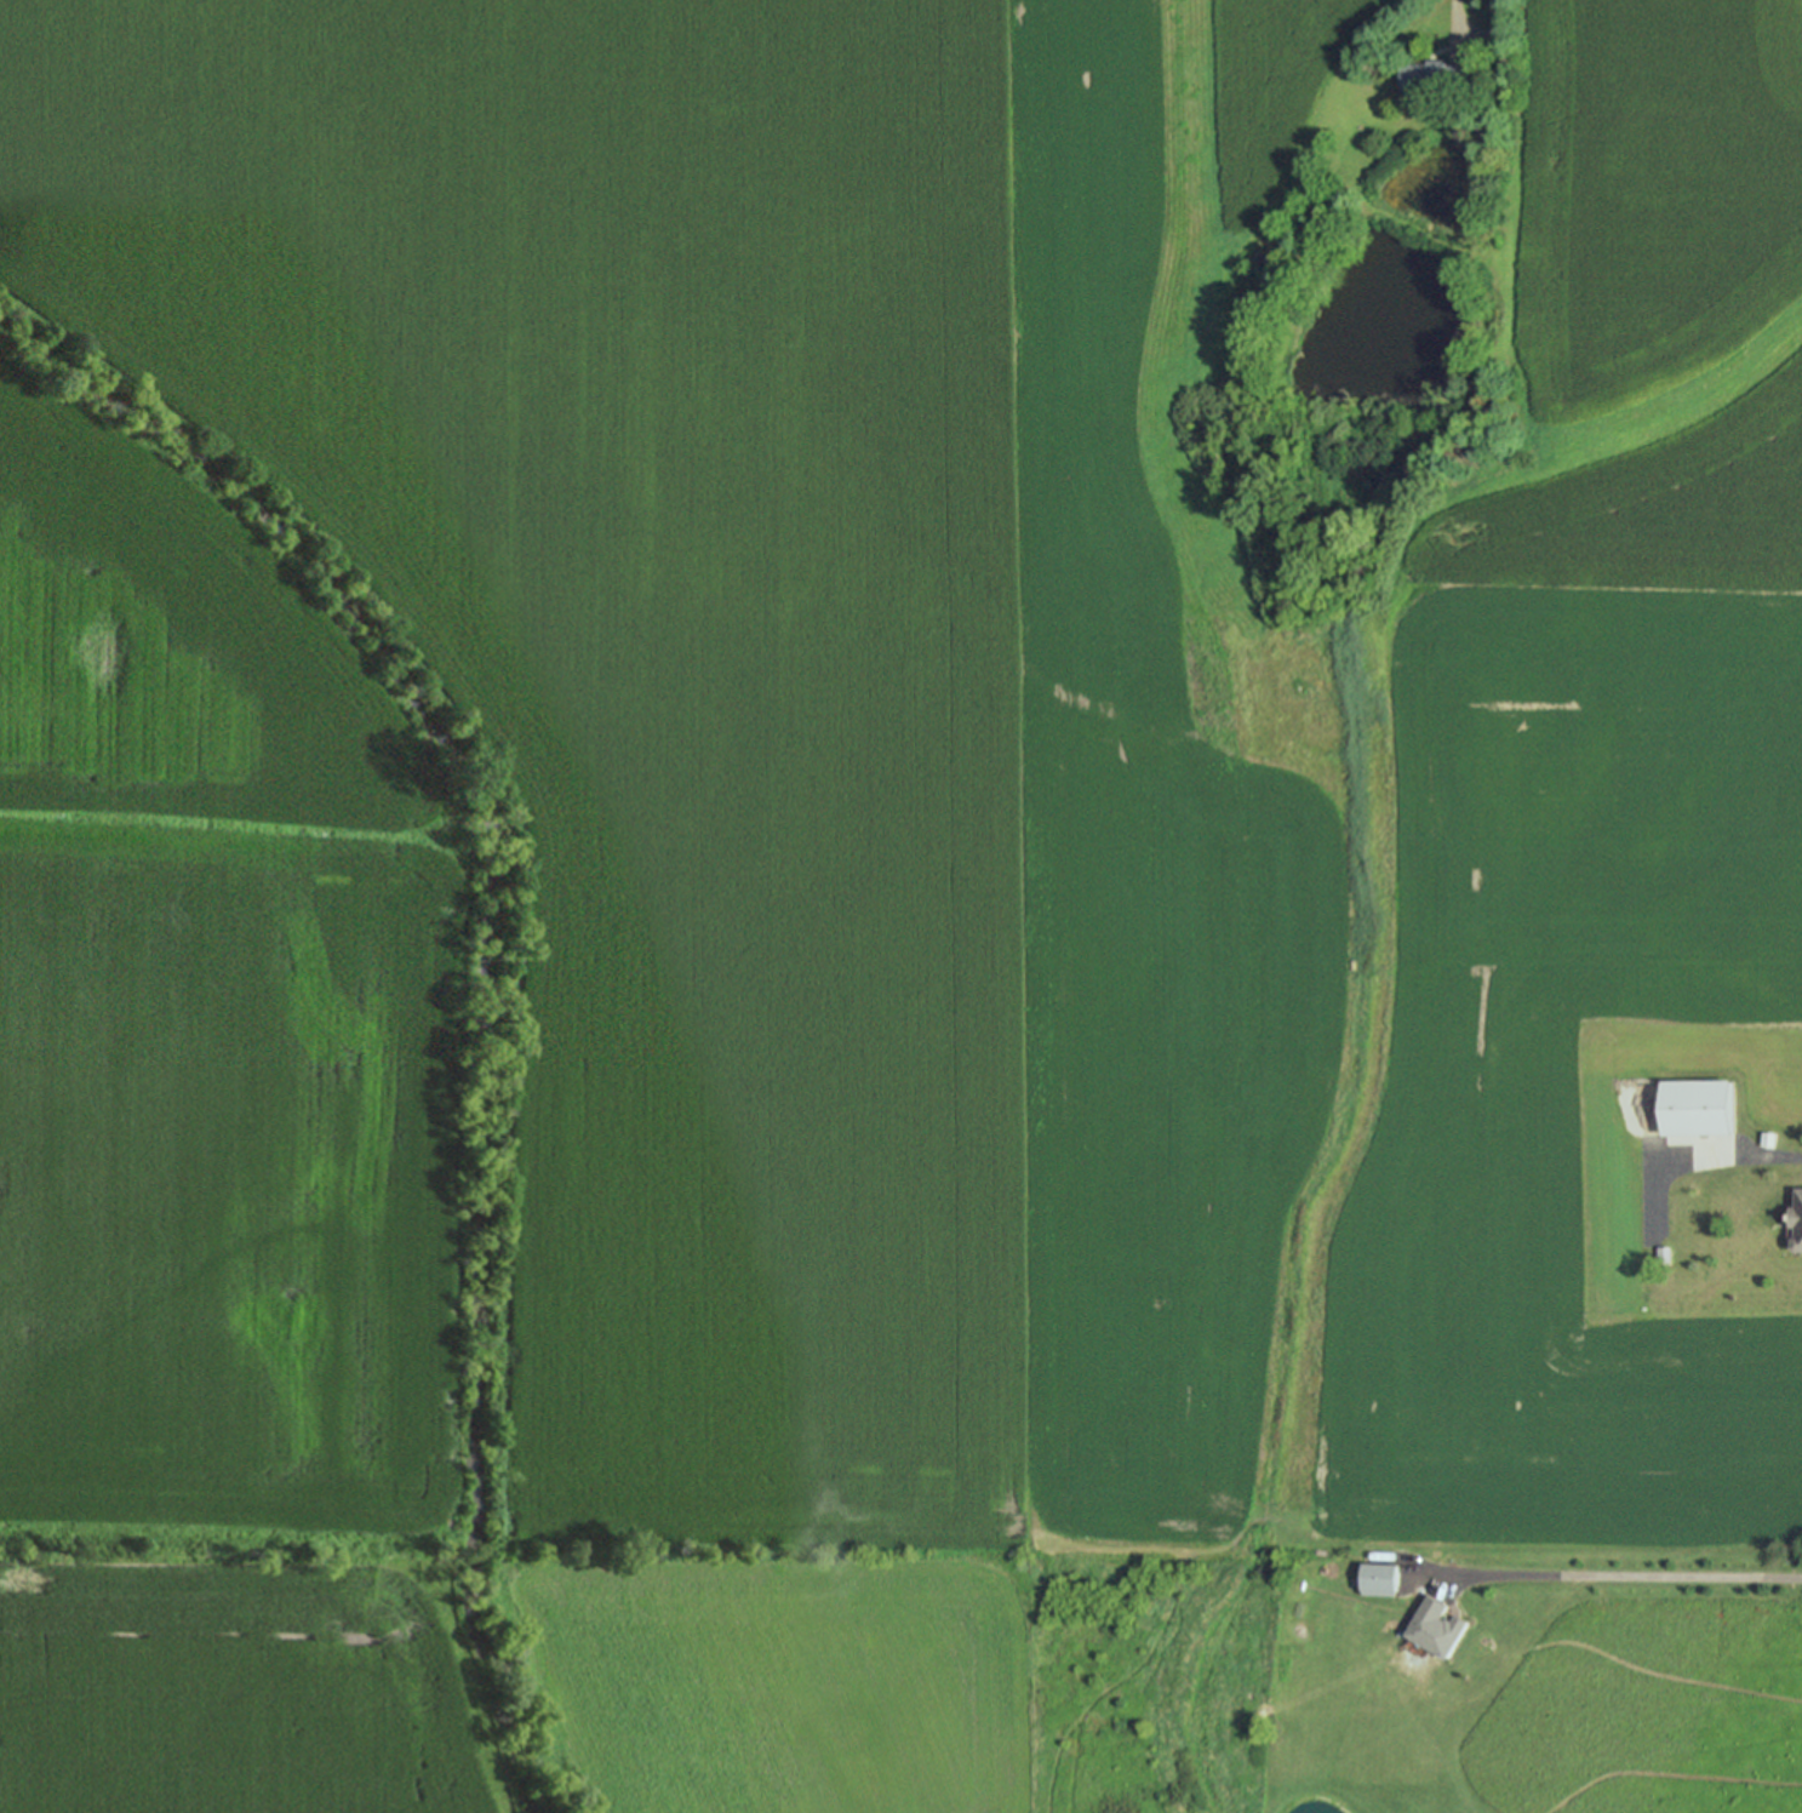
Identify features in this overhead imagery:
road: (1458, 27)
building: (1441, 76)
building: (1255, 263)
building: (1692, 1105)
road: (1750, 1163)
building: (1794, 1218)
road: (1608, 1578)
building: (1383, 1579)
building: (1441, 1628)

